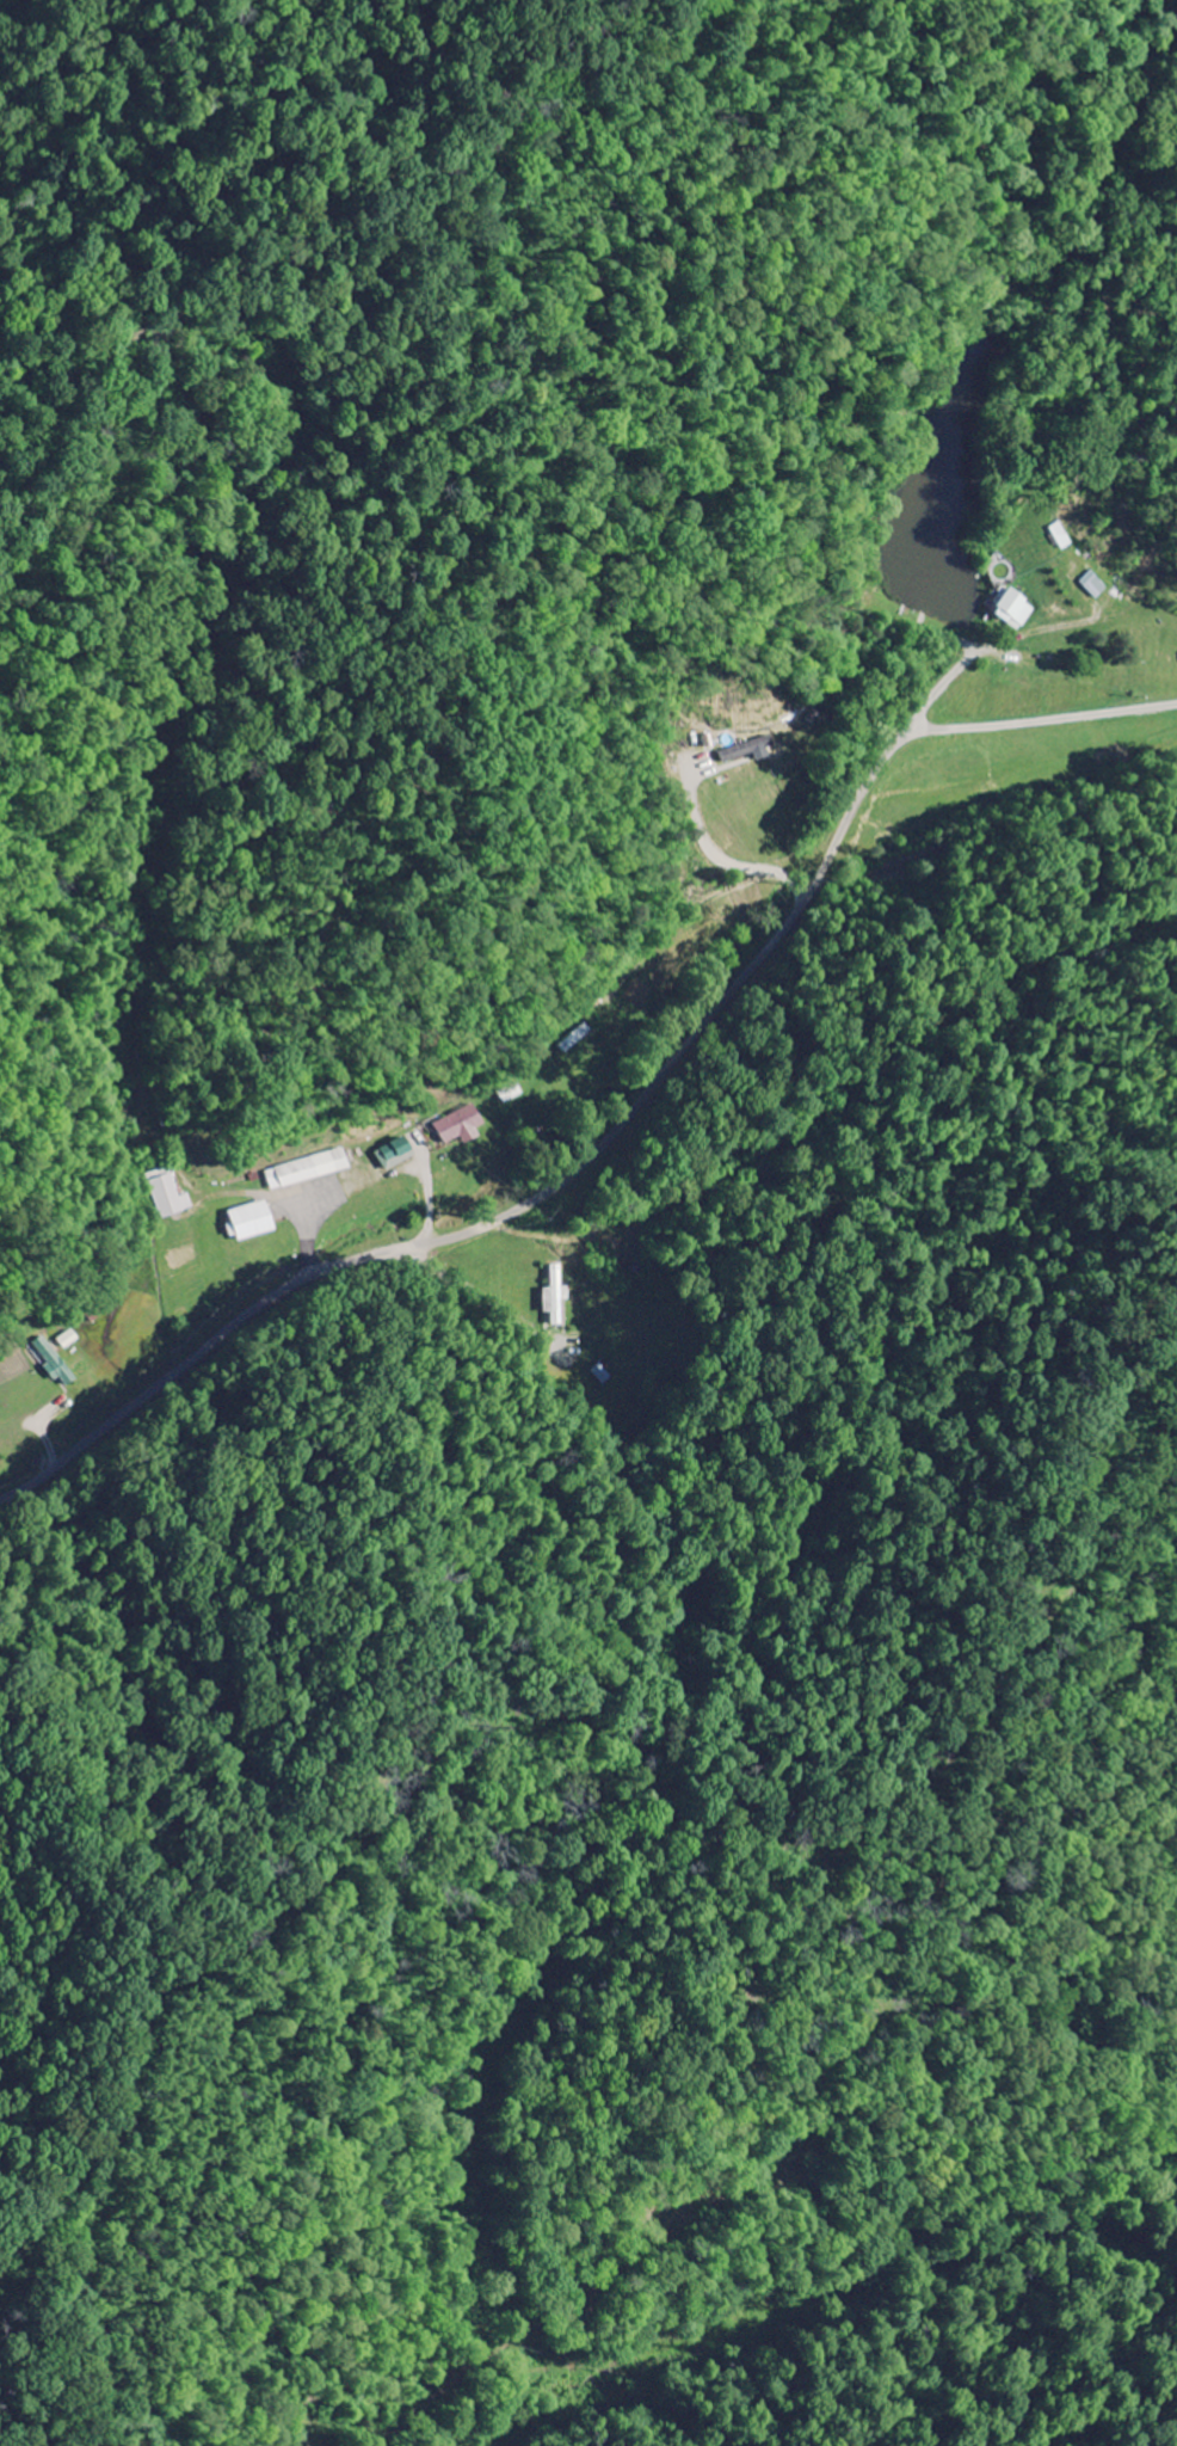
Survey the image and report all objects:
building: (1095, 585)
building: (1011, 608)
building: (751, 752)
road: (622, 1113)
building: (463, 1126)
building: (399, 1154)
building: (312, 1169)
building: (167, 1197)
building: (252, 1221)
building: (556, 1296)
building: (54, 1363)

